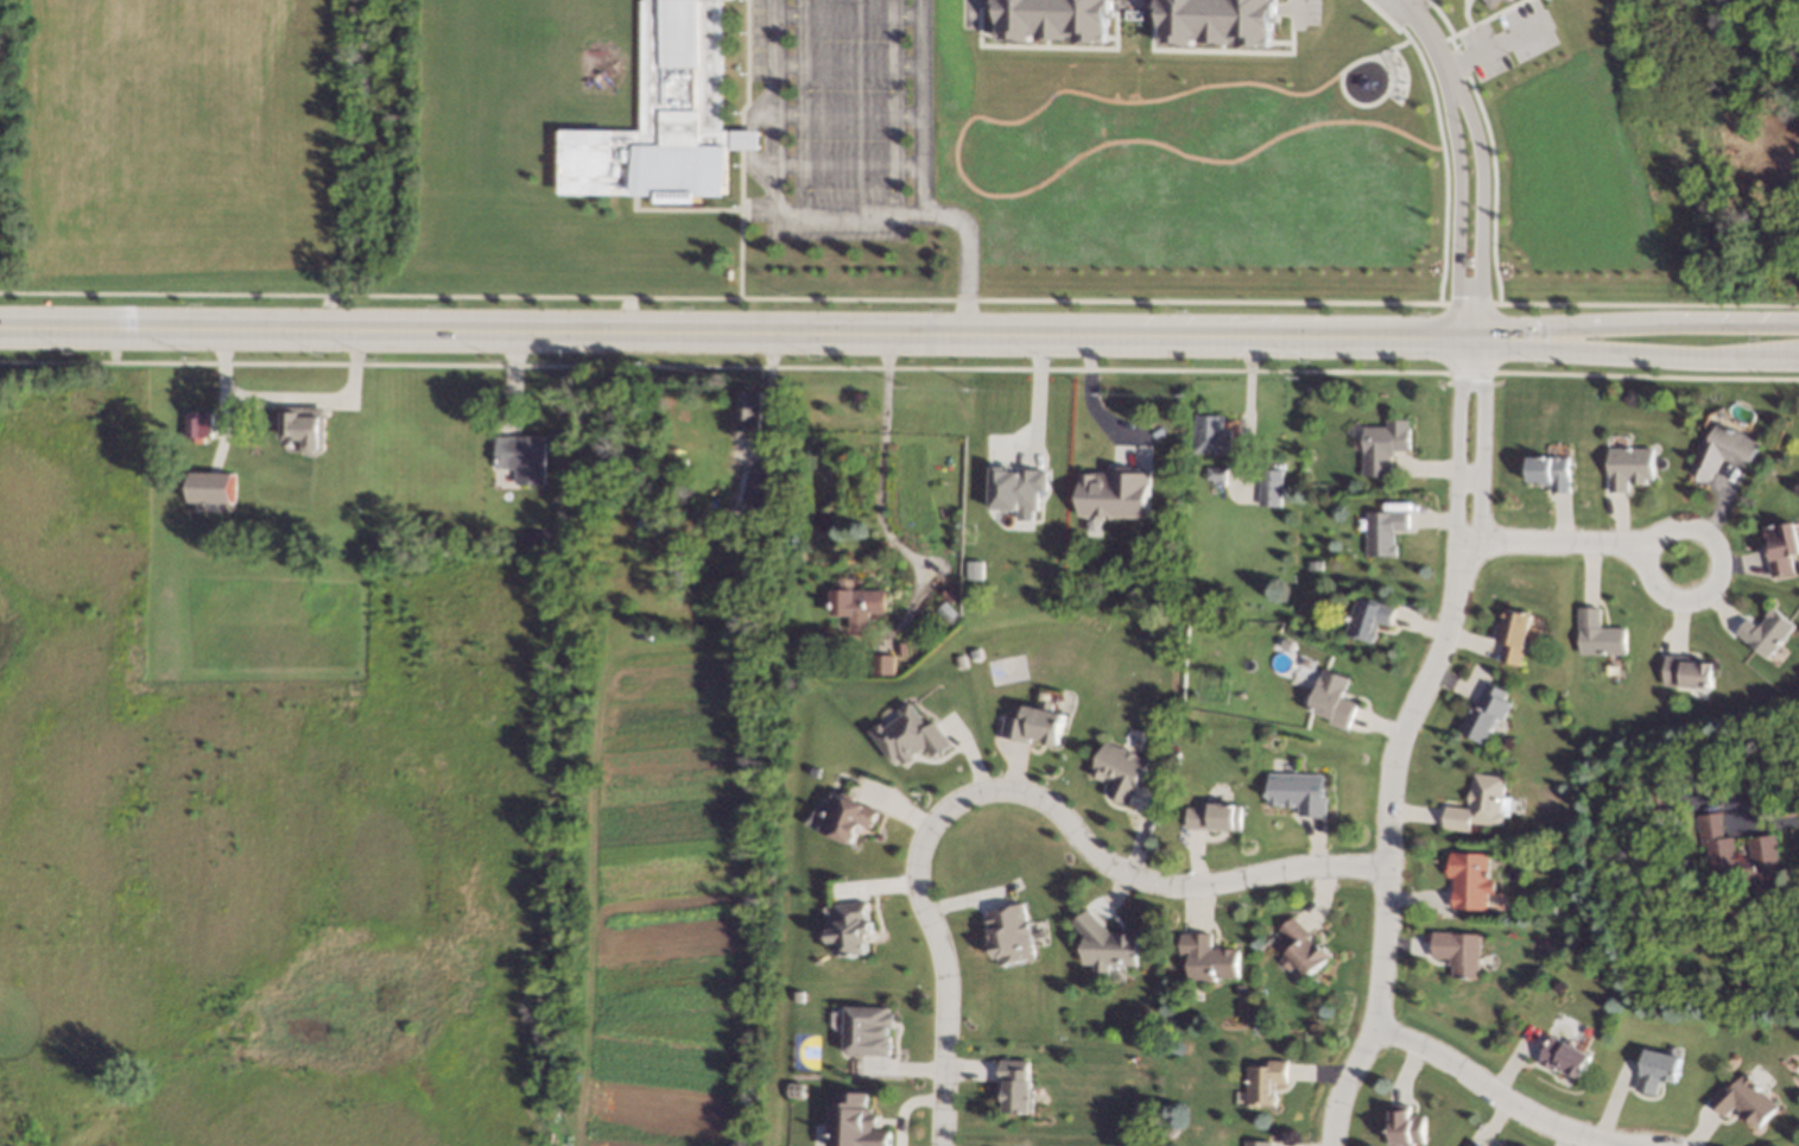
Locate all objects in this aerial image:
road: (977, 0)
building: (1507, 0)
road: (1130, 2)
building: (1490, 2)
road: (1130, 5)
road: (1281, 8)
road: (1292, 12)
parking lot: (1306, 12)
road: (1463, 13)
road: (1439, 15)
parking lot: (963, 19)
building: (1047, 19)
building: (1212, 21)
road: (1475, 21)
road: (982, 33)
road: (1481, 34)
parking lot: (1506, 38)
road: (1427, 39)
road: (1471, 39)
road: (1277, 42)
road: (1449, 43)
road: (1462, 44)
road: (1495, 44)
road: (1040, 45)
road: (1211, 49)
road: (1368, 56)
road: (1457, 61)
road: (1370, 101)
road: (773, 107)
road: (918, 108)
building: (664, 115)
road: (1438, 135)
park: (185, 153)
road: (1493, 185)
road: (984, 194)
road: (1480, 207)
road: (1457, 211)
road: (845, 216)
road: (963, 257)
road: (722, 297)
road: (1468, 303)
road: (1645, 303)
road: (1639, 323)
road: (740, 330)
road: (1639, 353)
building: (859, 398)
road: (1087, 403)
building: (747, 409)
building: (264, 418)
building: (198, 424)
building: (303, 426)
building: (1212, 439)
building: (1385, 447)
building: (1725, 451)
building: (522, 457)
building: (1630, 467)
road: (1427, 468)
road: (1456, 470)
road: (1480, 471)
building: (1552, 473)
building: (1216, 475)
road: (1468, 475)
building: (756, 483)
building: (213, 487)
building: (1272, 488)
building: (1018, 489)
road: (880, 490)
building: (1116, 493)
road: (1680, 523)
building: (646, 524)
building: (1387, 531)
building: (531, 537)
road: (1551, 540)
building: (1782, 547)
building: (975, 568)
building: (949, 594)
building: (857, 601)
building: (949, 612)
building: (1370, 618)
building: (1767, 632)
building: (1598, 634)
building: (1516, 635)
building: (1288, 645)
building: (973, 652)
building: (957, 658)
building: (867, 664)
building: (883, 664)
building: (1687, 672)
building: (1335, 699)
building: (1486, 714)
building: (1035, 724)
building: (913, 735)
building: (1176, 758)
building: (1121, 772)
building: (1301, 793)
building: (1659, 802)
building: (1481, 805)
building: (851, 817)
building: (1218, 817)
park: (265, 823)
road: (1766, 827)
building: (1763, 851)
road: (1386, 873)
building: (1470, 880)
road: (1158, 882)
building: (1551, 911)
building: (1730, 917)
building: (856, 926)
building: (1011, 936)
building: (1108, 944)
building: (1303, 948)
building: (1458, 952)
building: (1211, 958)
road: (942, 962)
building: (1244, 990)
building: (800, 995)
building: (869, 1030)
building: (1565, 1057)
building: (1658, 1070)
building: (1266, 1081)
building: (1016, 1084)
building: (798, 1089)
road: (1493, 1091)
building: (1746, 1101)
building: (856, 1122)
building: (1405, 1127)
building: (1258, 1144)
building: (1475, 1144)

